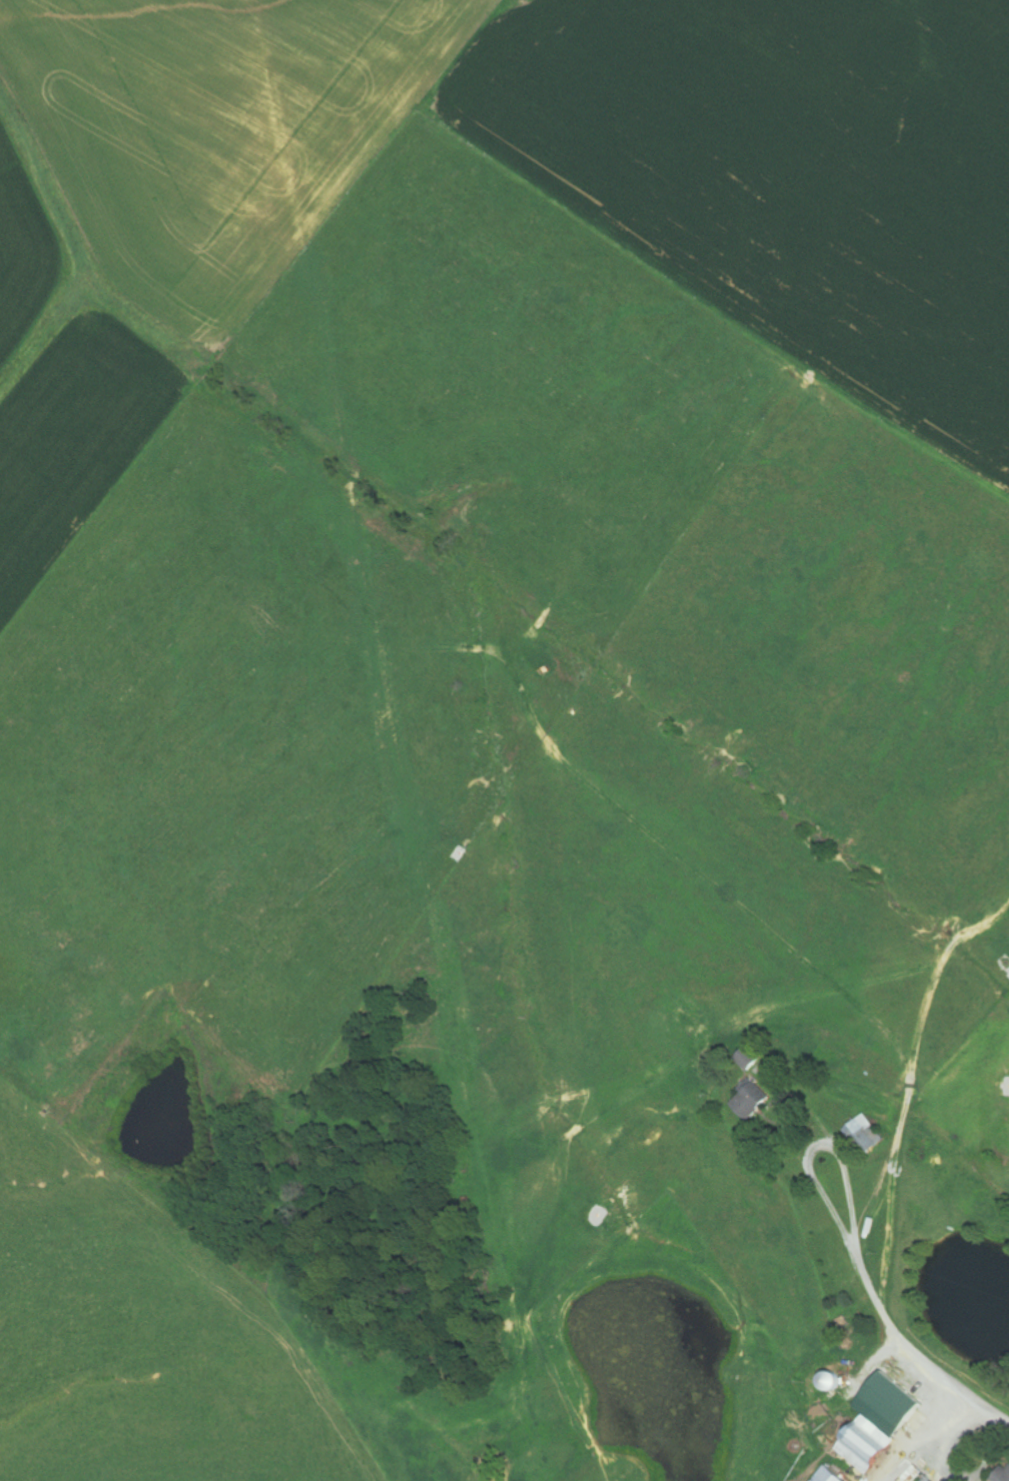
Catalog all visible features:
building: (754, 1058)
building: (757, 1100)
building: (869, 1132)
road: (822, 1145)
road: (915, 1348)
building: (884, 1423)
building: (834, 1475)
building: (931, 1479)

